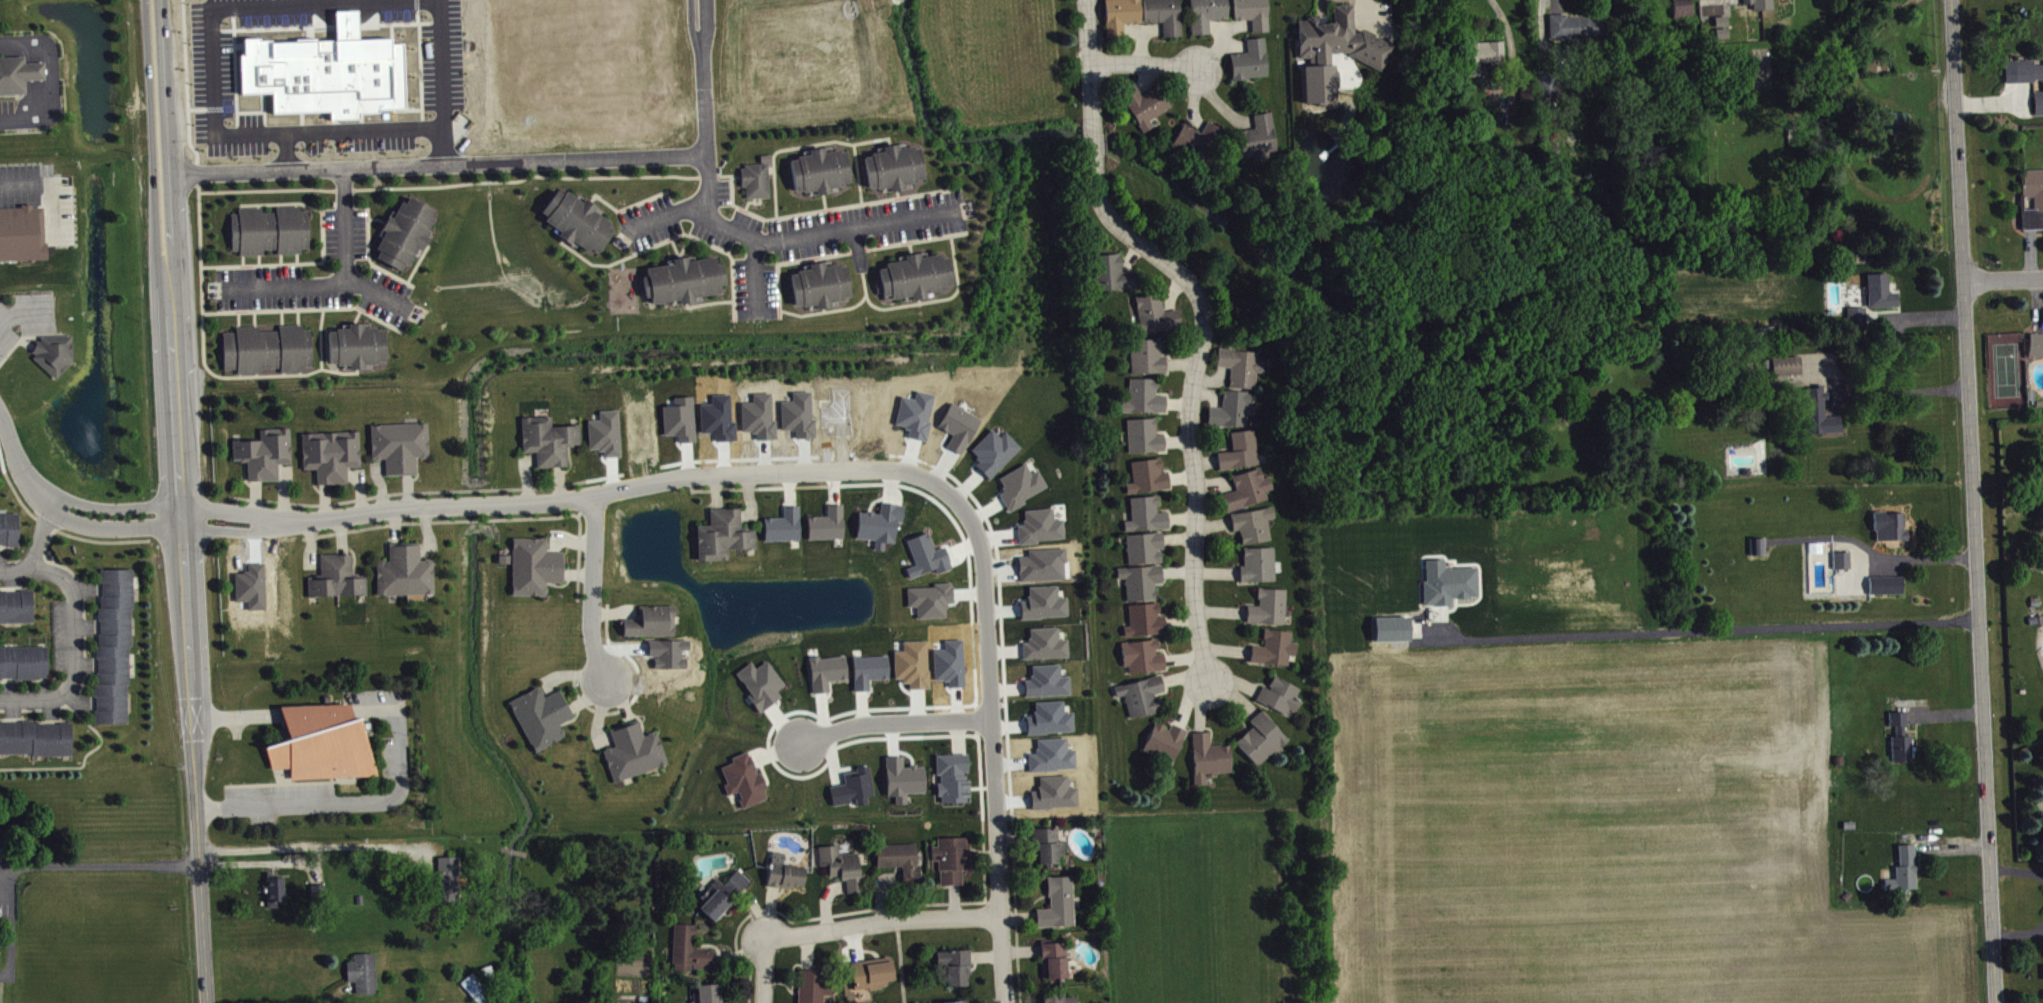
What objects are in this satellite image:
road: (1554, 0)
building: (1713, 1)
building: (1745, 1)
building: (1684, 11)
building: (1208, 16)
building: (1254, 16)
building: (1123, 18)
building: (1166, 18)
road: (693, 24)
road: (705, 24)
building: (1579, 32)
road: (1509, 36)
building: (1336, 56)
building: (1485, 60)
road: (440, 61)
road: (1092, 64)
building: (1252, 65)
road: (1147, 66)
road: (55, 70)
building: (323, 71)
building: (18, 73)
building: (2024, 76)
road: (36, 80)
road: (213, 91)
building: (1527, 98)
building: (2039, 108)
building: (1146, 109)
parking lot: (8, 113)
road: (9, 117)
building: (1896, 126)
road: (831, 140)
road: (168, 142)
road: (1093, 142)
road: (151, 143)
building: (1260, 143)
building: (1198, 145)
road: (441, 146)
road: (285, 151)
road: (491, 163)
building: (891, 167)
building: (818, 170)
road: (855, 171)
road: (724, 176)
building: (754, 177)
road: (525, 178)
road: (52, 188)
road: (266, 190)
road: (774, 191)
road: (731, 192)
road: (922, 193)
parking lot: (41, 196)
road: (823, 201)
road: (280, 203)
road: (295, 204)
road: (258, 205)
road: (279, 205)
road: (624, 207)
building: (2039, 207)
road: (817, 211)
road: (367, 213)
road: (664, 216)
building: (575, 220)
road: (857, 224)
building: (268, 230)
building: (21, 232)
building: (404, 232)
road: (738, 233)
parking lot: (784, 233)
parking lot: (345, 236)
road: (672, 238)
road: (914, 240)
road: (909, 247)
road: (368, 252)
road: (679, 255)
road: (832, 255)
road: (297, 258)
road: (243, 259)
road: (259, 259)
road: (281, 259)
road: (287, 263)
road: (416, 265)
road: (777, 266)
building: (913, 275)
building: (1114, 278)
building: (681, 279)
road: (2004, 281)
road: (956, 282)
road: (338, 284)
building: (818, 284)
parking lot: (316, 288)
road: (379, 295)
building: (1880, 296)
road: (706, 303)
road: (880, 307)
road: (823, 309)
road: (262, 310)
road: (820, 311)
road: (24, 315)
road: (298, 316)
road: (357, 316)
parking lot: (25, 317)
road: (282, 317)
road: (238, 318)
road: (255, 318)
building: (1157, 320)
building: (1858, 322)
building: (356, 345)
building: (266, 348)
building: (2037, 350)
building: (52, 353)
building: (1149, 361)
building: (1788, 370)
road: (342, 372)
building: (1242, 372)
road: (243, 376)
road: (1905, 396)
road: (1195, 397)
building: (1146, 402)
building: (1234, 414)
building: (1822, 418)
building: (607, 438)
building: (547, 440)
building: (1146, 441)
building: (398, 445)
building: (263, 453)
building: (330, 455)
building: (1241, 456)
building: (996, 457)
building: (1150, 481)
building: (1023, 491)
building: (1249, 494)
road: (1976, 501)
road: (452, 502)
building: (1148, 520)
building: (8, 528)
building: (828, 529)
building: (881, 529)
building: (1255, 530)
building: (784, 531)
building: (1043, 531)
building: (1892, 531)
road: (64, 533)
building: (721, 534)
building: (1146, 553)
road: (1876, 553)
building: (928, 561)
building: (1844, 565)
building: (533, 566)
building: (1260, 570)
road: (15, 571)
parking lot: (25, 571)
building: (403, 571)
building: (335, 577)
building: (1142, 586)
building: (1888, 590)
road: (591, 592)
building: (15, 605)
building: (933, 605)
building: (1046, 608)
building: (1270, 612)
road: (72, 618)
building: (648, 621)
building: (1147, 625)
road: (1704, 629)
road: (184, 644)
building: (112, 645)
building: (1047, 649)
building: (1276, 653)
parking lot: (60, 659)
building: (1144, 661)
building: (22, 662)
building: (914, 669)
building: (870, 676)
building: (828, 677)
building: (1049, 687)
building: (762, 689)
building: (1143, 701)
building: (1281, 701)
building: (539, 716)
road: (893, 722)
building: (1900, 726)
building: (34, 737)
building: (320, 742)
building: (1262, 744)
building: (1166, 746)
road: (991, 747)
building: (631, 751)
building: (1904, 753)
road: (83, 760)
building: (1211, 763)
building: (954, 783)
building: (905, 784)
building: (746, 785)
building: (855, 793)
road: (356, 800)
road: (307, 844)
building: (1045, 844)
building: (2, 852)
building: (949, 858)
building: (898, 860)
road: (107, 865)
building: (840, 866)
building: (782, 872)
building: (1906, 875)
road: (9, 877)
parking lot: (8, 884)
building: (449, 885)
building: (272, 889)
building: (315, 892)
building: (721, 893)
building: (1055, 901)
road: (1012, 904)
road: (856, 911)
road: (1015, 916)
road: (883, 924)
road: (11, 926)
building: (688, 949)
building: (1051, 959)
road: (900, 965)
building: (952, 965)
road: (766, 972)
building: (870, 972)
building: (361, 973)
building: (812, 985)
building: (477, 992)
building: (707, 993)
building: (1054, 997)
building: (951, 1001)

